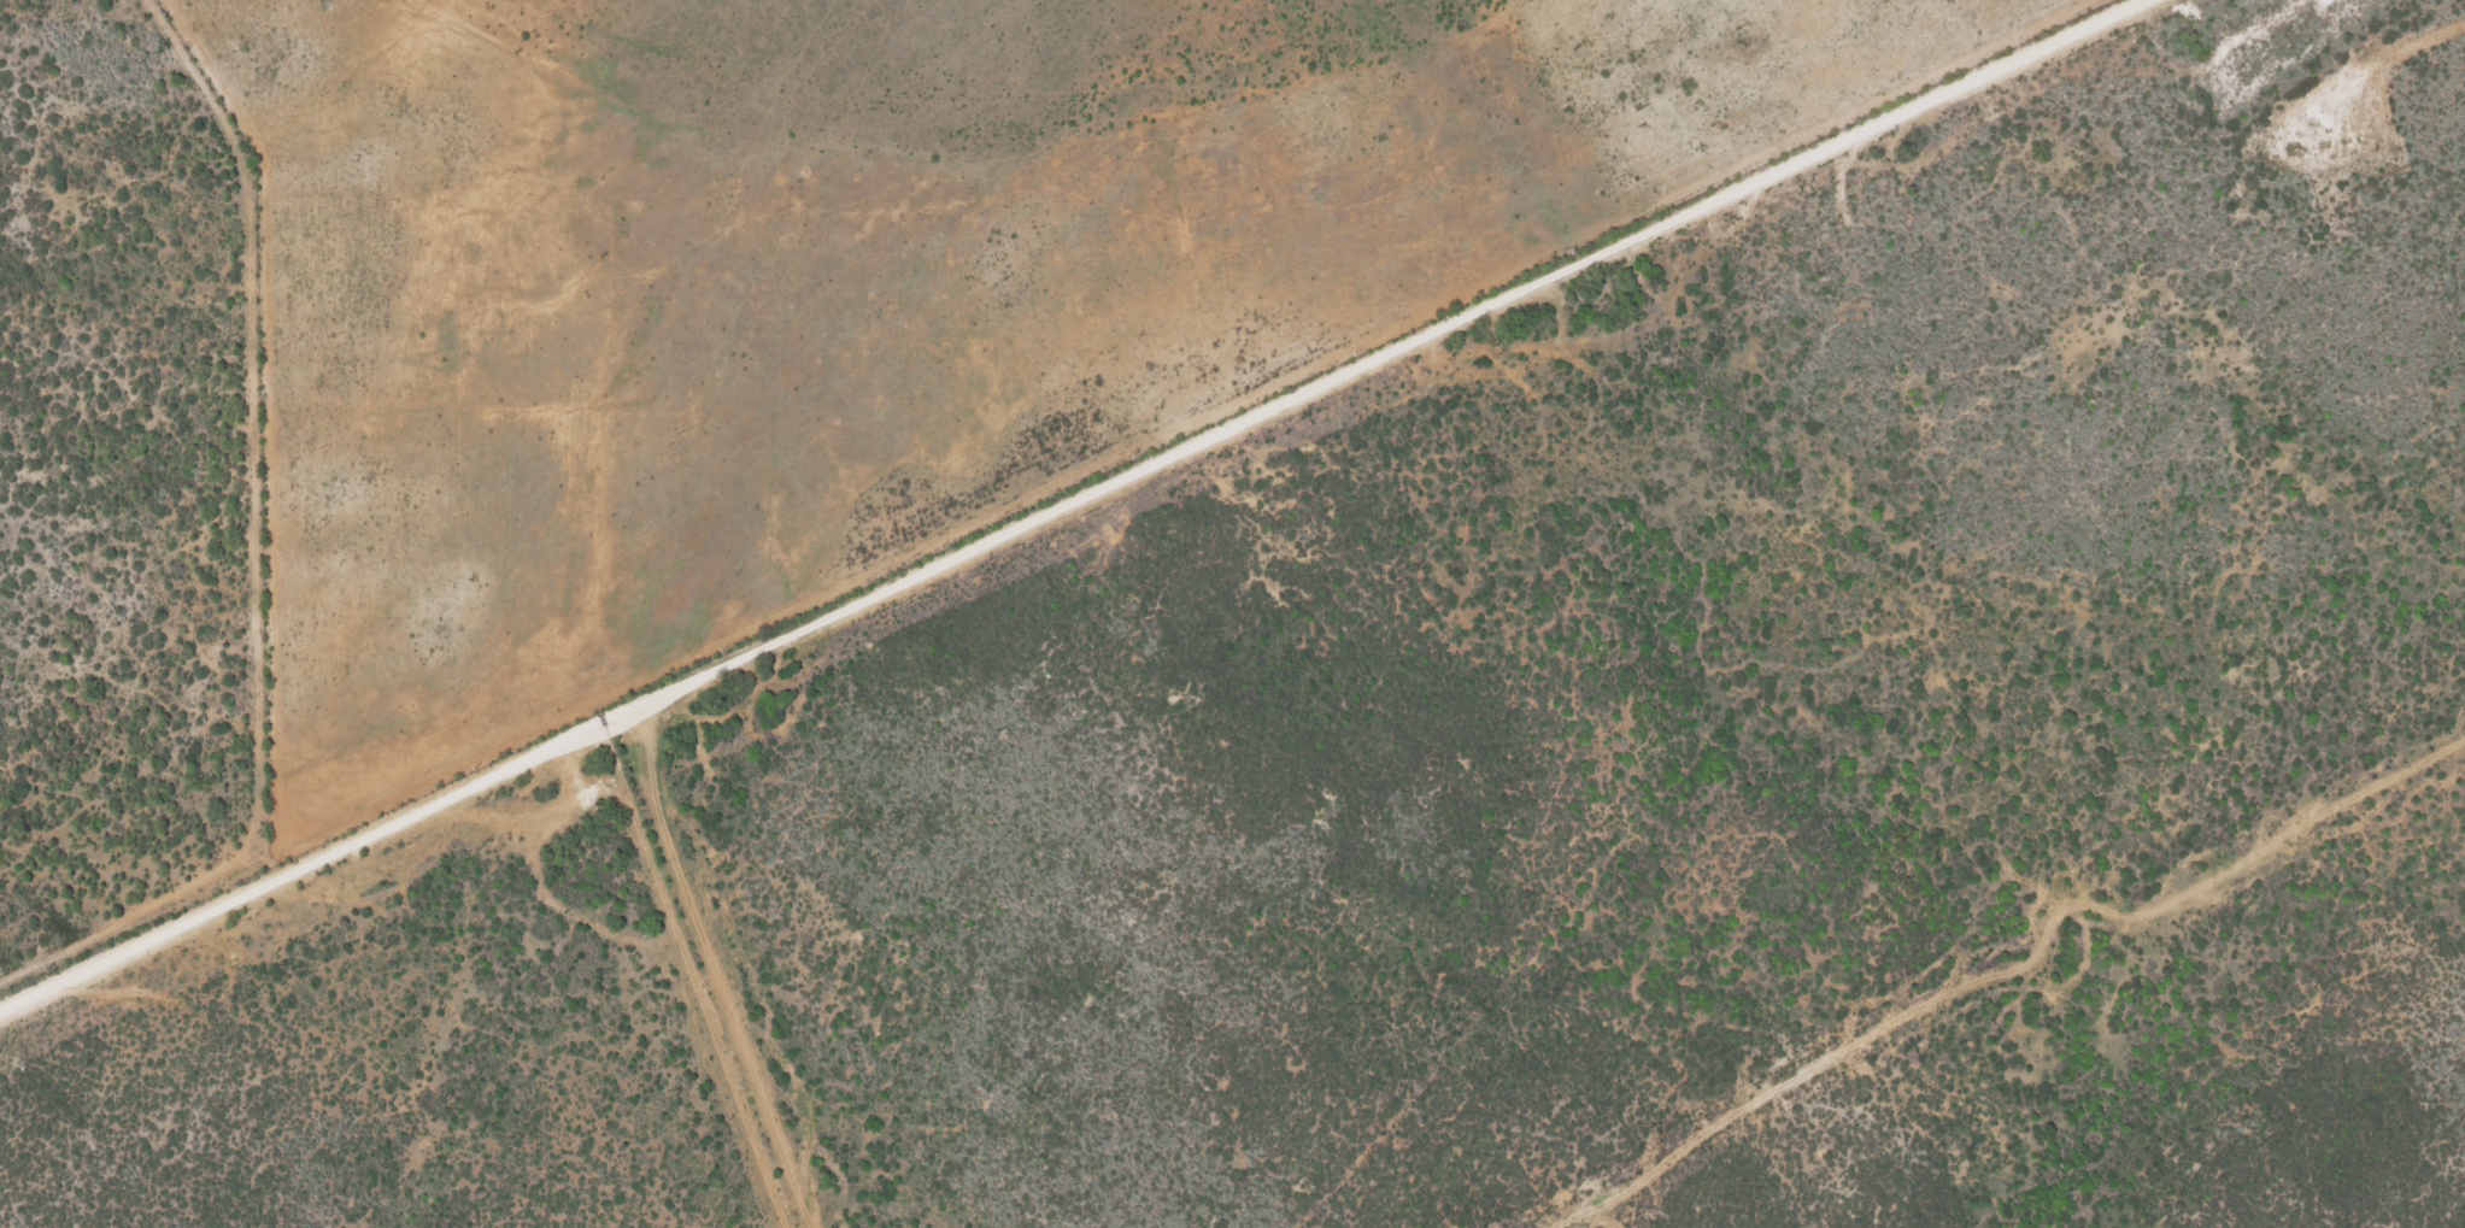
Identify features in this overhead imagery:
road: (1073, 505)

